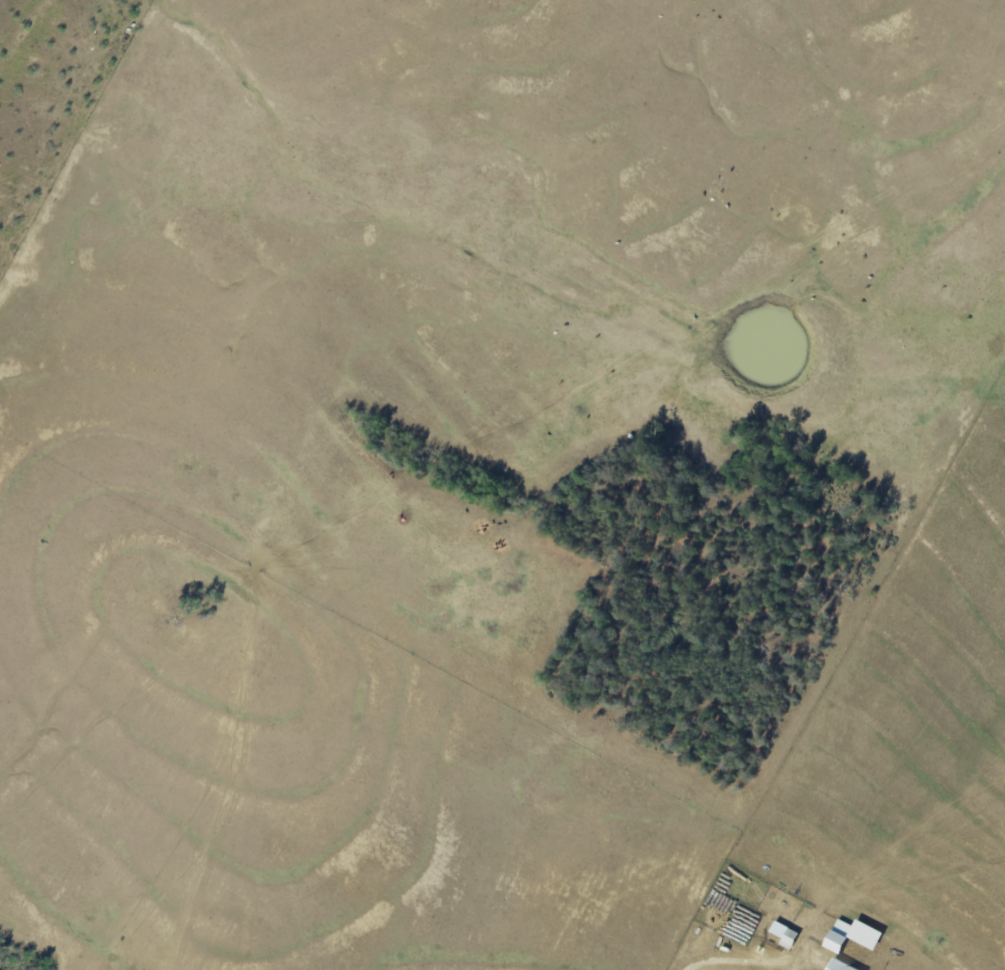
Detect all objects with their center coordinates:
crop: (472, 463)

